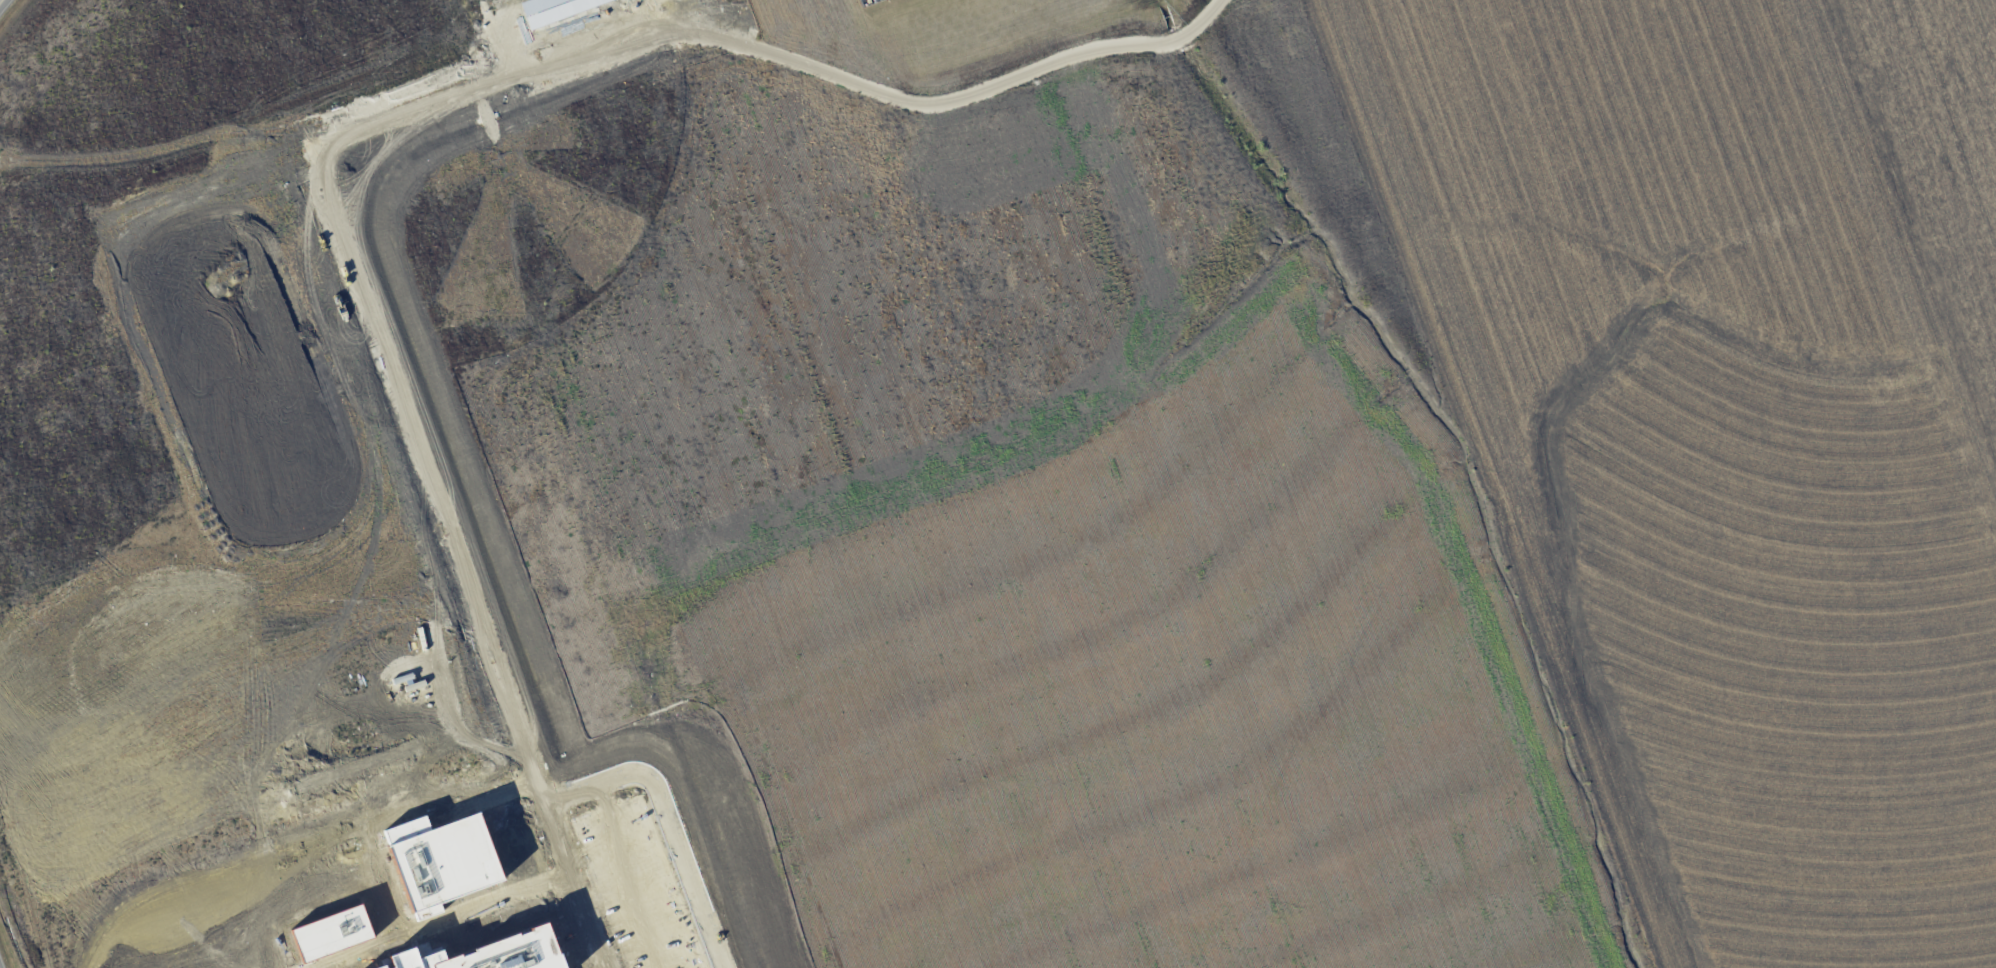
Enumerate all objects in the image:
road: (2, 2)
road: (658, 784)
road: (491, 906)

